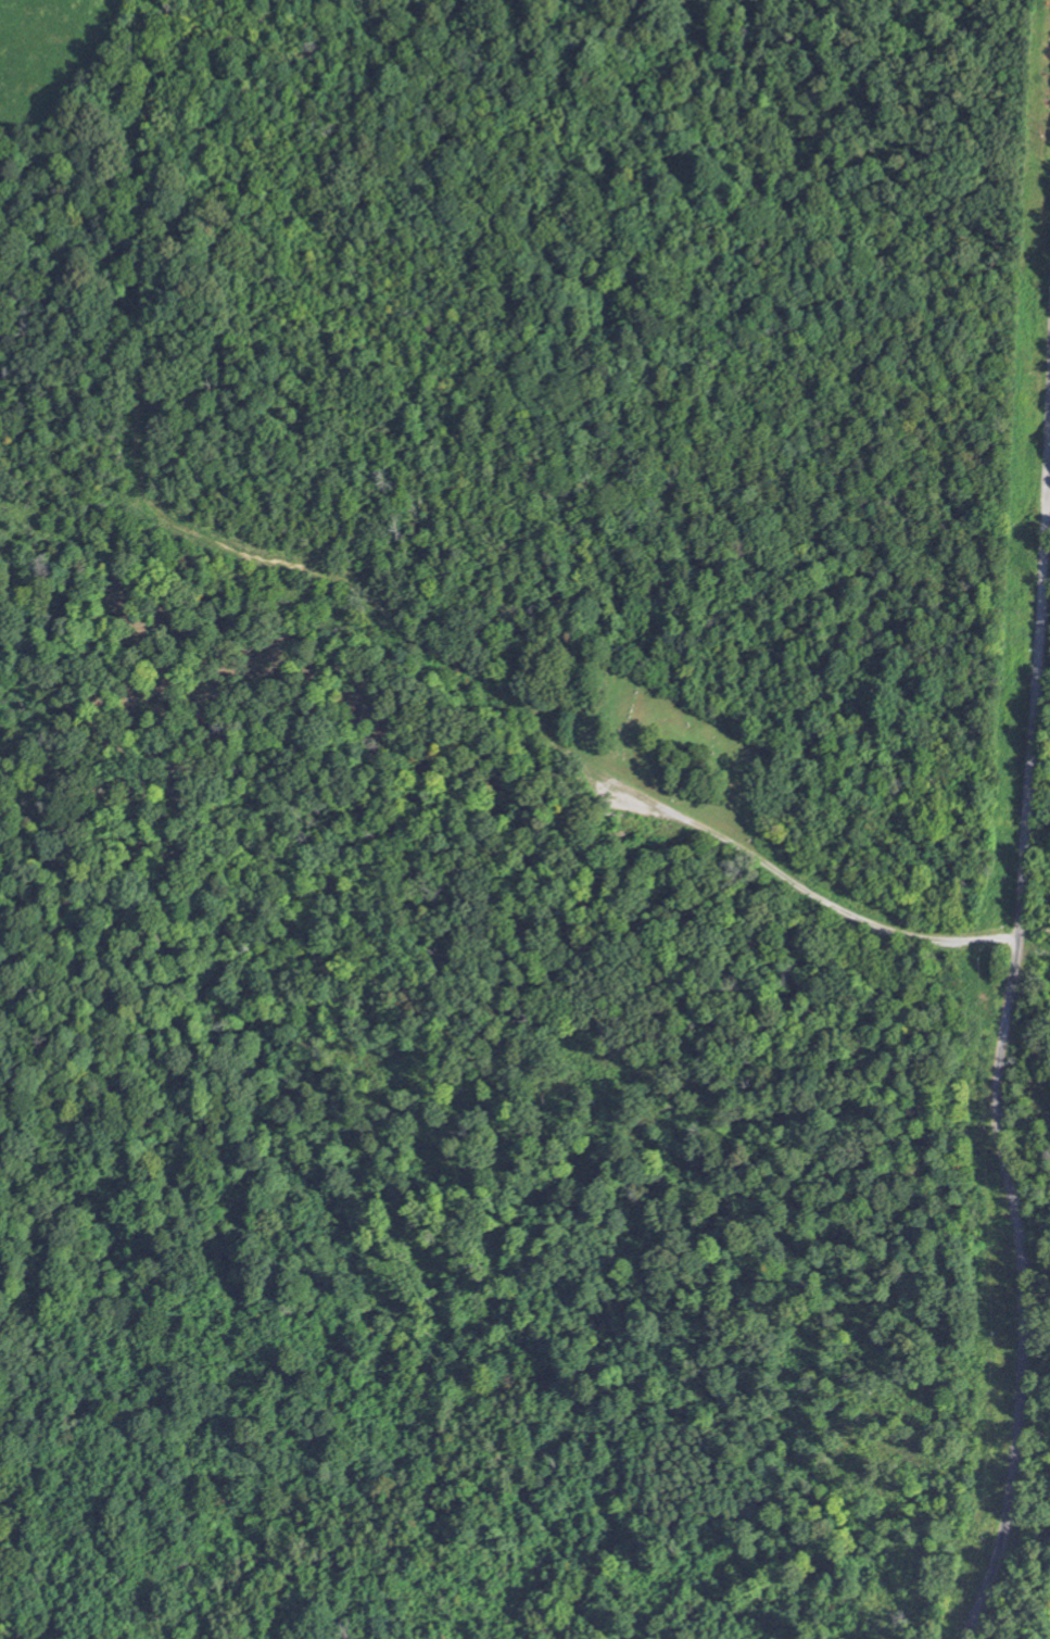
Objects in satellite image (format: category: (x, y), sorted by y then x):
road: (824, 899)
road: (1034, 946)
road: (1004, 1025)

